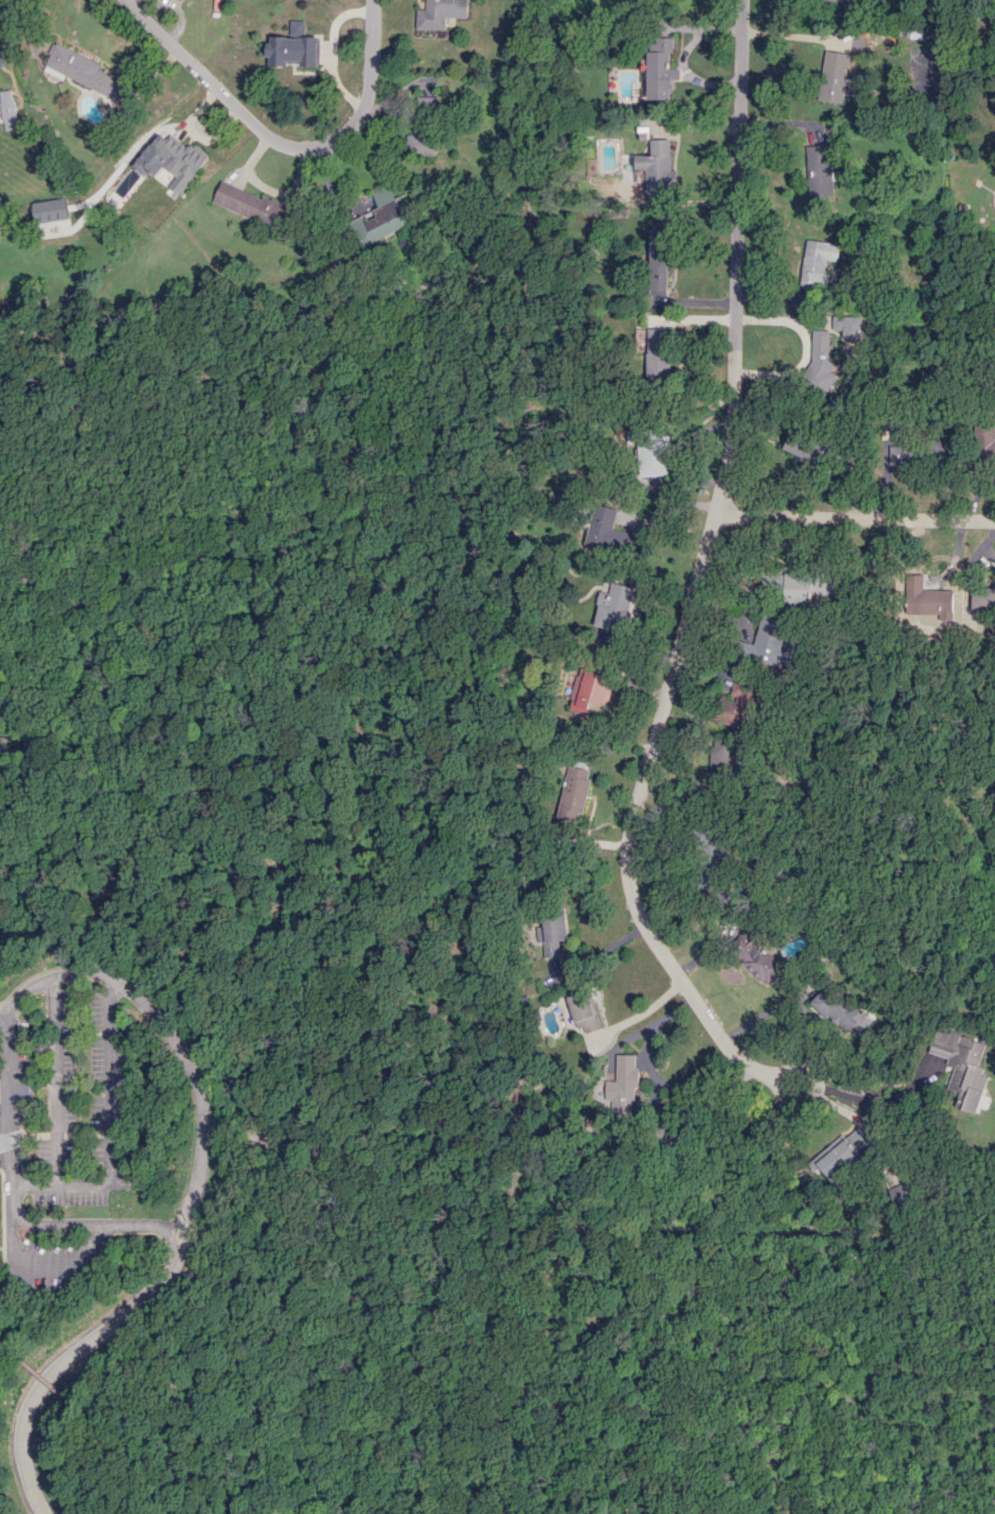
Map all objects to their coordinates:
building: (833, 1)
building: (440, 13)
building: (293, 47)
building: (662, 69)
building: (81, 70)
building: (833, 77)
building: (7, 109)
building: (422, 140)
road: (281, 144)
building: (180, 161)
building: (659, 164)
building: (818, 170)
building: (249, 204)
building: (380, 217)
building: (661, 259)
building: (817, 262)
building: (847, 326)
building: (660, 351)
building: (820, 358)
building: (986, 442)
building: (808, 449)
building: (649, 450)
building: (898, 455)
road: (854, 517)
building: (606, 530)
road: (697, 571)
building: (808, 586)
building: (983, 596)
building: (925, 598)
building: (614, 607)
road: (319, 619)
building: (766, 642)
building: (588, 692)
building: (738, 704)
building: (722, 752)
building: (574, 792)
road: (158, 837)
building: (553, 935)
building: (754, 955)
road: (134, 976)
parking lot: (82, 996)
road: (4, 1008)
building: (838, 1011)
building: (585, 1012)
road: (642, 1012)
road: (7, 1016)
building: (960, 1065)
road: (650, 1070)
building: (623, 1081)
road: (55, 1083)
road: (813, 1094)
road: (879, 1100)
road: (710, 1102)
road: (868, 1123)
road: (111, 1131)
road: (33, 1136)
road: (10, 1140)
building: (842, 1153)
road: (3, 1252)
parking lot: (49, 1259)
road: (45, 1266)
road: (1, 1295)
road: (341, 1335)
road: (2, 1344)
road: (83, 1347)
road: (38, 1373)
road: (843, 1375)
road: (107, 1415)
road: (186, 1457)

